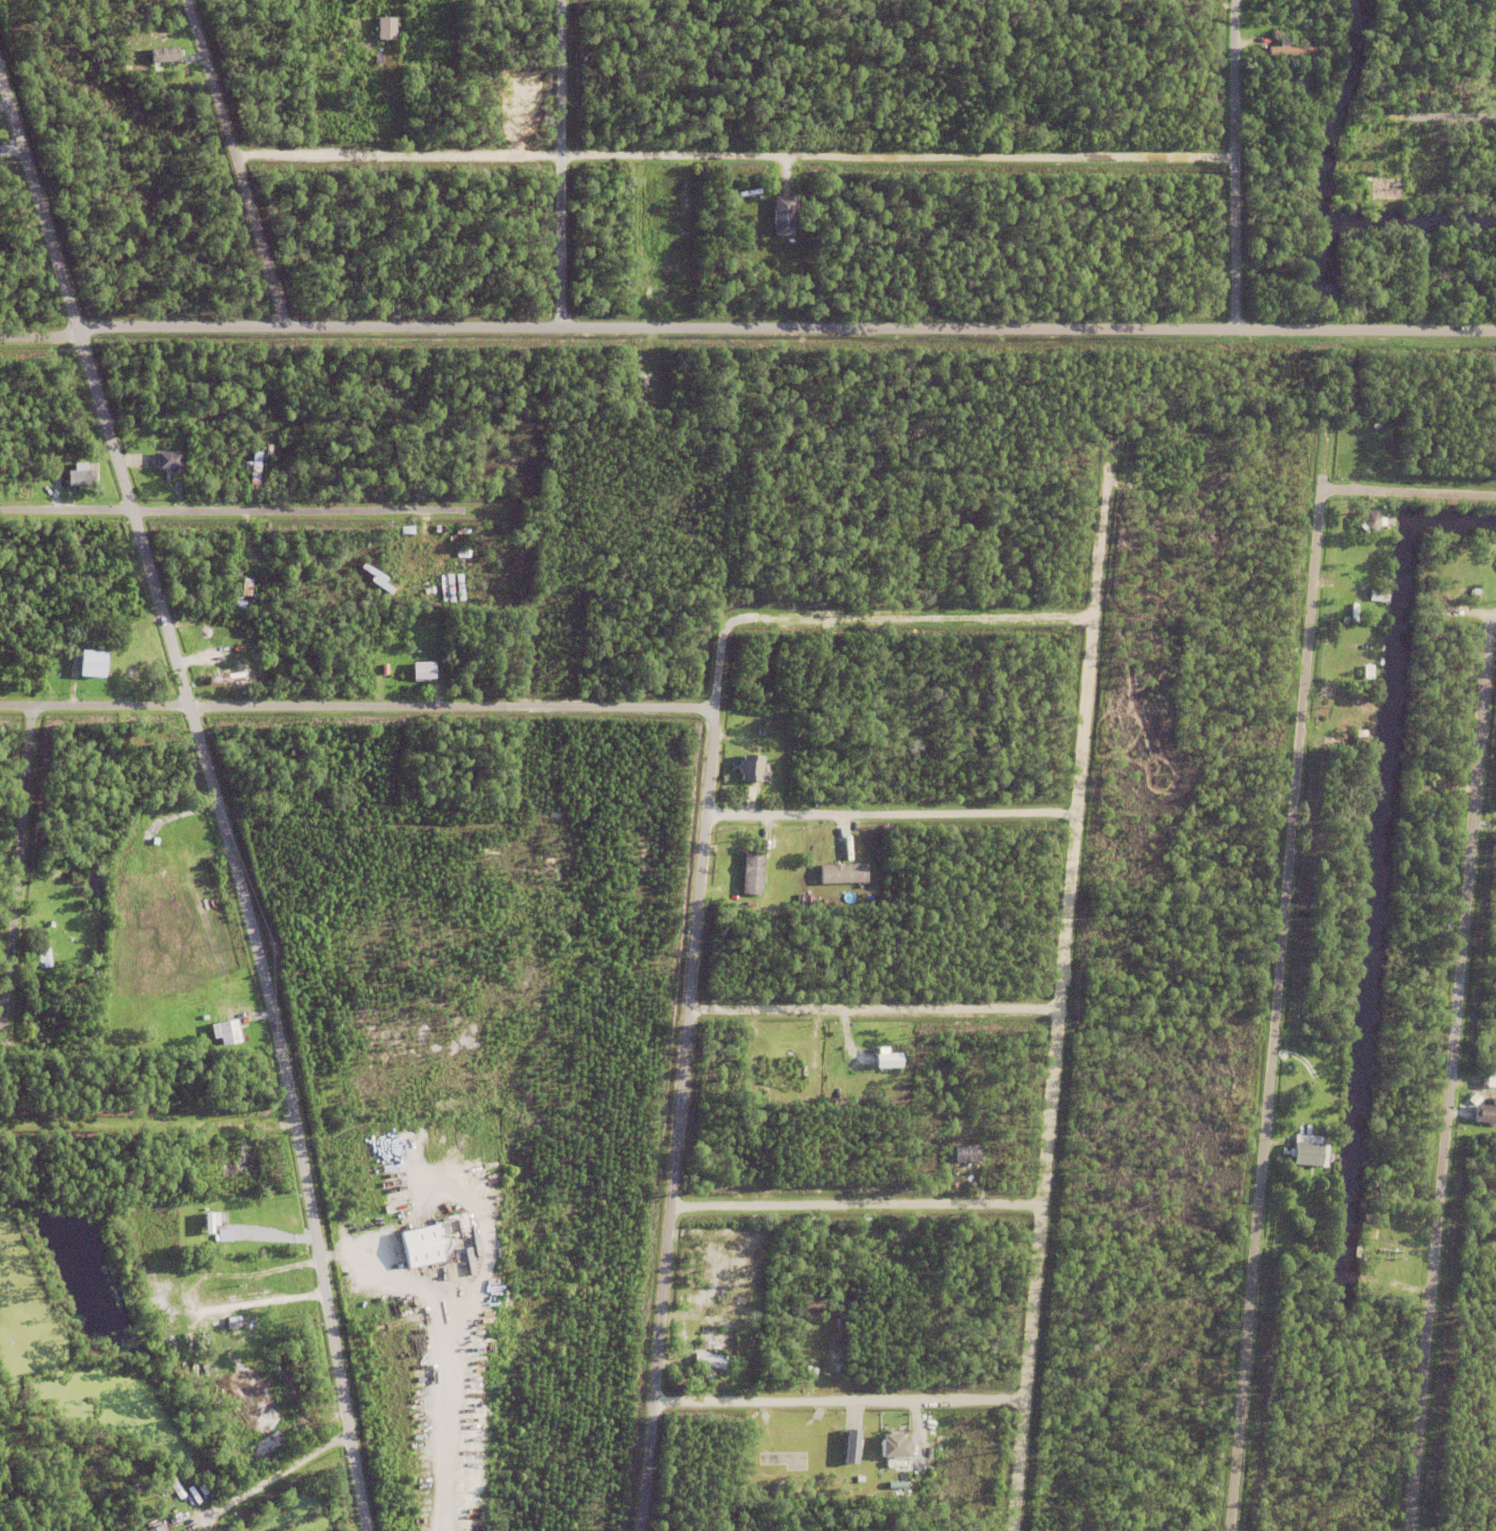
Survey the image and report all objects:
building: (422, 16)
building: (385, 30)
building: (1288, 51)
building: (164, 57)
building: (378, 61)
road: (1491, 90)
building: (389, 94)
building: (106, 108)
building: (942, 109)
road: (1413, 117)
road: (7, 146)
road: (727, 158)
road: (556, 163)
road: (230, 164)
road: (1227, 164)
building: (1385, 192)
building: (1354, 208)
building: (782, 218)
building: (1476, 275)
building: (1442, 280)
building: (1459, 298)
building: (1439, 301)
road: (783, 327)
road: (37, 339)
building: (143, 458)
building: (168, 465)
building: (241, 468)
building: (255, 473)
building: (34, 474)
building: (79, 481)
road: (1409, 494)
road: (232, 509)
building: (1340, 517)
building: (1368, 518)
road: (430, 528)
building: (997, 531)
building: (407, 532)
building: (463, 532)
building: (1354, 547)
building: (463, 556)
building: (241, 558)
building: (395, 562)
building: (257, 566)
building: (413, 570)
building: (428, 576)
building: (377, 581)
building: (224, 586)
building: (246, 589)
building: (449, 590)
building: (459, 591)
building: (1474, 591)
building: (1333, 593)
building: (1383, 594)
building: (74, 596)
building: (240, 606)
road: (1468, 611)
road: (911, 617)
building: (797, 639)
building: (816, 647)
building: (91, 669)
building: (422, 675)
building: (227, 677)
building: (1325, 690)
road: (360, 705)
road: (1089, 721)
building: (1347, 732)
building: (1360, 735)
building: (749, 763)
building: (749, 792)
road: (219, 806)
road: (894, 816)
building: (776, 841)
building: (752, 842)
building: (821, 843)
building: (820, 855)
road: (21, 866)
building: (752, 870)
building: (842, 870)
building: (44, 954)
road: (1280, 974)
road: (695, 975)
road: (1093, 982)
road: (1064, 996)
road: (877, 1010)
building: (229, 1014)
building: (228, 1030)
building: (749, 1053)
building: (880, 1056)
building: (812, 1058)
building: (889, 1061)
road: (1450, 1072)
building: (1490, 1078)
building: (166, 1090)
building: (1485, 1108)
road: (149, 1121)
building: (92, 1122)
building: (211, 1142)
building: (1307, 1149)
building: (968, 1151)
building: (243, 1164)
building: (752, 1167)
road: (862, 1205)
building: (210, 1220)
building: (218, 1223)
building: (368, 1225)
building: (224, 1234)
building: (419, 1244)
building: (1386, 1269)
road: (1042, 1270)
building: (251, 1273)
building: (230, 1274)
building: (208, 1275)
building: (172, 1293)
building: (690, 1294)
building: (701, 1297)
building: (693, 1310)
building: (237, 1323)
building: (204, 1340)
building: (708, 1360)
building: (1163, 1366)
building: (185, 1387)
road: (841, 1421)
building: (819, 1439)
building: (897, 1444)
building: (853, 1445)
building: (783, 1457)
road: (284, 1470)
building: (189, 1525)
building: (157, 1527)

